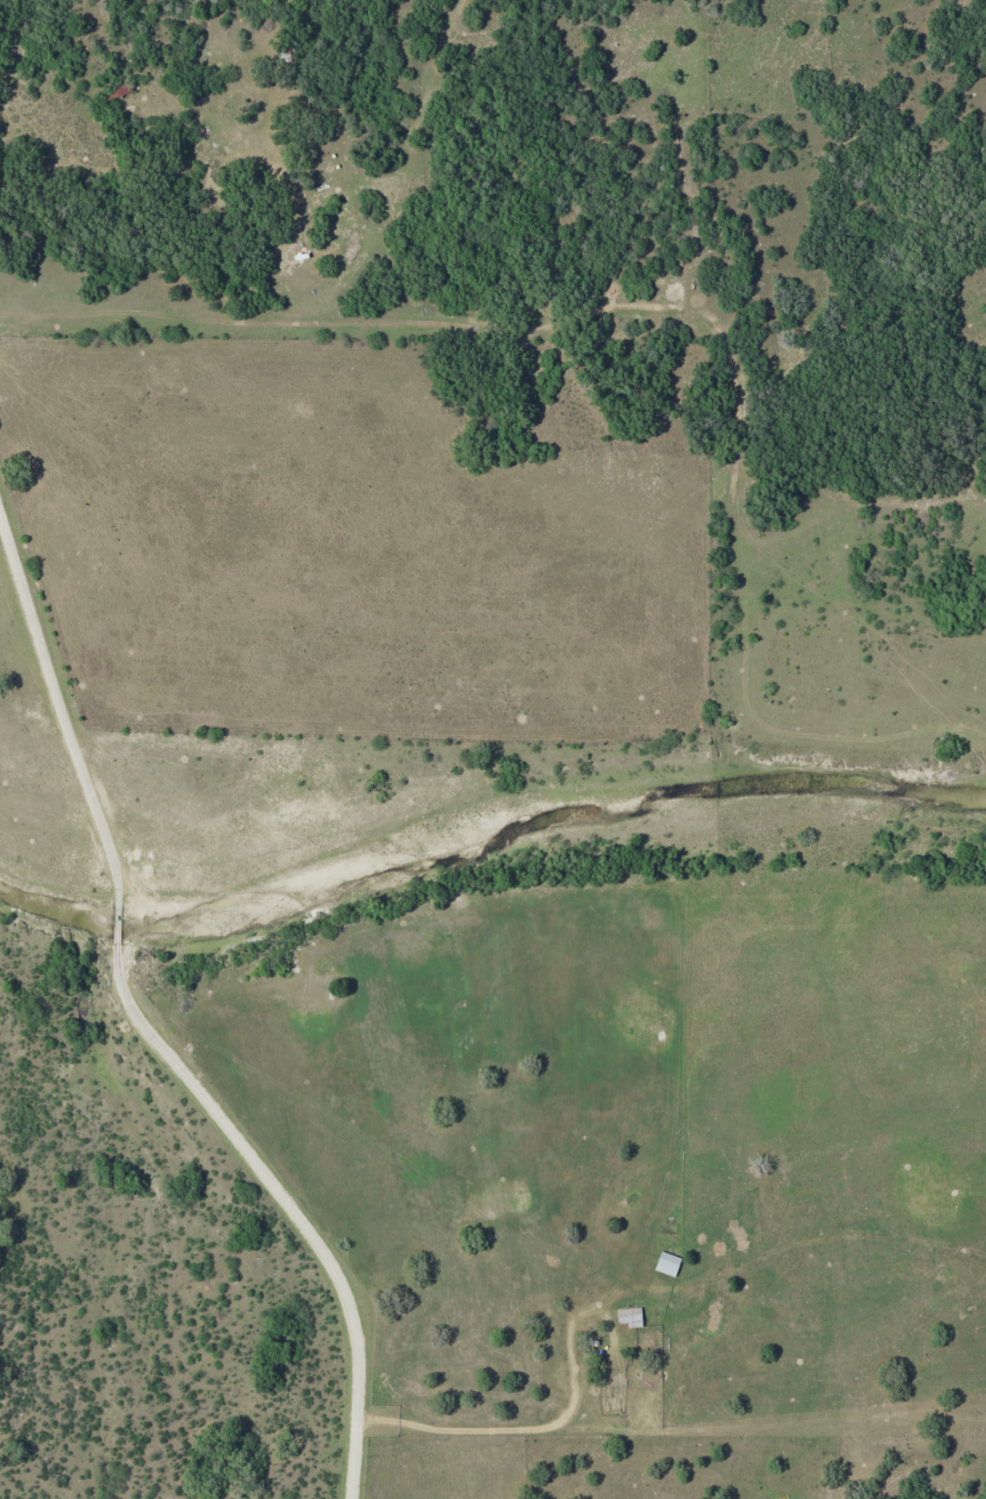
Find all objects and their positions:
road: (62, 690)
road: (124, 919)
road: (295, 1204)
building: (669, 1263)
building: (631, 1316)

